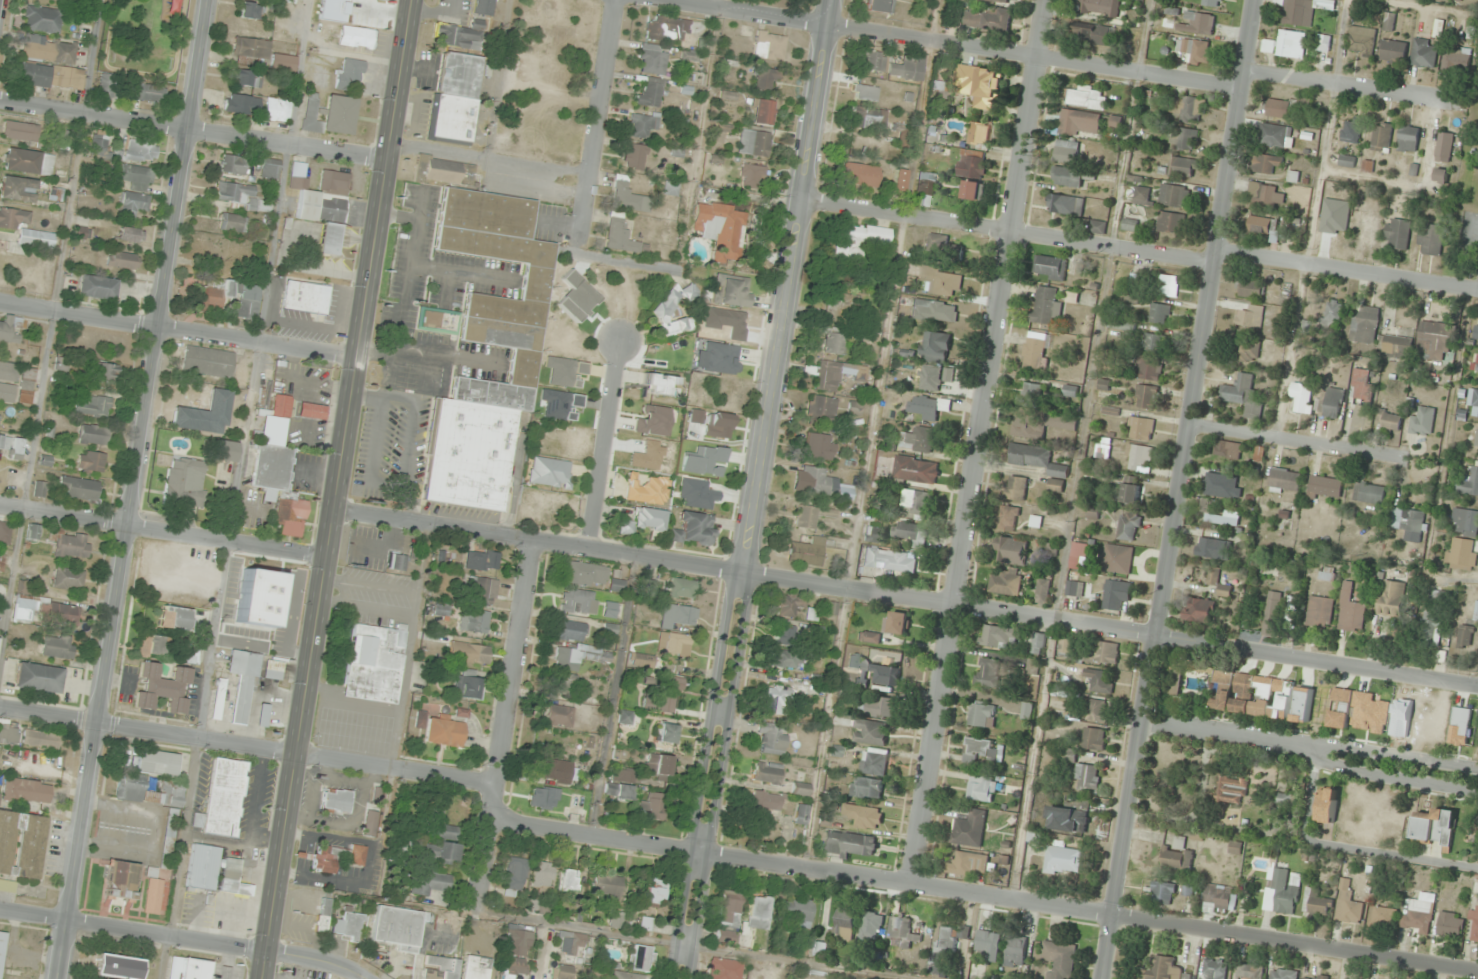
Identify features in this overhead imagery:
building: (62, 0)
building: (386, 0)
building: (996, 1)
building: (1209, 3)
building: (881, 6)
building: (483, 7)
building: (1100, 7)
road: (1422, 7)
building: (248, 10)
building: (1302, 10)
building: (330, 11)
building: (42, 19)
building: (987, 19)
building: (1197, 24)
building: (666, 29)
building: (1093, 34)
building: (458, 36)
building: (357, 37)
building: (1360, 41)
road: (956, 43)
building: (1285, 44)
building: (1323, 44)
building: (769, 45)
building: (49, 50)
building: (250, 51)
building: (1195, 51)
building: (1392, 51)
building: (1424, 53)
building: (652, 59)
building: (873, 60)
building: (1456, 61)
building: (282, 62)
building: (908, 67)
building: (348, 73)
building: (49, 76)
building: (766, 78)
building: (247, 79)
building: (980, 81)
building: (106, 86)
road: (1340, 87)
building: (939, 90)
building: (649, 92)
building: (864, 93)
building: (149, 94)
building: (455, 97)
building: (1085, 97)
building: (242, 105)
building: (1285, 107)
building: (1188, 109)
building: (277, 110)
building: (764, 112)
building: (329, 114)
building: (869, 118)
road: (598, 121)
building: (1078, 123)
building: (642, 124)
building: (1115, 125)
building: (20, 130)
road: (191, 131)
building: (1350, 131)
building: (979, 136)
building: (1273, 136)
building: (61, 137)
building: (1184, 138)
building: (1381, 138)
building: (1407, 139)
building: (99, 143)
building: (754, 143)
building: (1443, 147)
building: (138, 151)
building: (1067, 152)
road: (488, 156)
building: (635, 156)
building: (27, 161)
building: (1346, 161)
building: (1266, 164)
building: (232, 165)
building: (972, 167)
building: (1183, 167)
building: (270, 169)
building: (860, 174)
building: (752, 175)
building: (1440, 175)
building: (137, 177)
building: (1067, 177)
road: (1370, 179)
building: (899, 180)
building: (670, 188)
building: (18, 189)
building: (924, 189)
park: (1465, 190)
building: (973, 191)
building: (56, 193)
building: (239, 196)
building: (627, 196)
building: (1142, 196)
building: (1173, 196)
building: (1273, 196)
building: (133, 204)
building: (322, 204)
building: (1066, 205)
road: (1311, 219)
building: (233, 222)
building: (1170, 223)
building: (1129, 225)
building: (1335, 225)
building: (1262, 226)
building: (1098, 227)
building: (25, 228)
building: (719, 228)
building: (1365, 230)
building: (130, 234)
building: (1396, 235)
building: (621, 236)
building: (857, 239)
building: (1430, 239)
building: (944, 249)
road: (1139, 253)
building: (122, 260)
building: (1051, 268)
park: (27, 275)
building: (942, 282)
building: (1166, 286)
building: (96, 287)
building: (1249, 289)
building: (732, 290)
building: (212, 295)
building: (305, 297)
building: (248, 302)
building: (836, 306)
building: (1046, 306)
building: (934, 311)
building: (1330, 312)
building: (661, 313)
building: (1159, 314)
building: (1249, 317)
building: (438, 321)
building: (1364, 325)
building: (1306, 326)
road: (176, 327)
building: (10, 329)
building: (1476, 331)
building: (484, 339)
building: (1433, 340)
building: (1154, 341)
building: (832, 342)
building: (935, 347)
building: (1393, 347)
building: (1036, 351)
building: (1246, 352)
building: (721, 358)
building: (207, 361)
building: (1150, 368)
building: (9, 371)
building: (105, 372)
building: (825, 375)
building: (243, 376)
building: (930, 378)
building: (658, 384)
building: (26, 385)
building: (1361, 387)
building: (7, 392)
building: (1030, 394)
building: (1242, 395)
building: (1145, 397)
building: (1301, 398)
building: (1473, 401)
building: (1332, 403)
building: (94, 406)
building: (822, 407)
building: (927, 408)
building: (312, 411)
building: (0, 412)
building: (1389, 421)
building: (1421, 421)
building: (652, 422)
building: (1039, 424)
building: (1141, 428)
building: (92, 434)
building: (1476, 439)
building: (918, 440)
road: (979, 440)
road: (1294, 441)
road: (602, 445)
building: (819, 446)
building: (11, 447)
building: (225, 450)
building: (1228, 450)
building: (1140, 458)
building: (91, 462)
building: (1040, 464)
building: (277, 468)
building: (916, 470)
building: (549, 472)
building: (1284, 480)
building: (1468, 480)
building: (816, 481)
building: (183, 482)
building: (1222, 486)
building: (81, 488)
building: (1324, 488)
road: (132, 489)
road: (332, 489)
building: (647, 489)
road: (755, 489)
building: (1016, 489)
road: (1177, 489)
building: (1369, 493)
building: (697, 494)
building: (1131, 494)
building: (916, 502)
building: (812, 516)
building: (1215, 516)
building: (1008, 518)
building: (644, 521)
building: (1464, 522)
building: (1408, 524)
building: (1129, 527)
building: (693, 529)
building: (33, 531)
road: (161, 532)
building: (911, 533)
building: (6, 534)
building: (873, 534)
building: (70, 543)
building: (1211, 548)
building: (1011, 551)
building: (807, 552)
building: (1460, 554)
building: (1078, 556)
building: (1117, 559)
building: (484, 560)
building: (890, 560)
building: (396, 561)
building: (2, 562)
building: (586, 574)
building: (1326, 574)
building: (1213, 575)
building: (68, 578)
building: (1006, 583)
building: (618, 585)
building: (252, 586)
building: (683, 588)
building: (1075, 589)
building: (1043, 590)
building: (484, 591)
building: (1224, 591)
building: (1114, 595)
road: (903, 598)
building: (1391, 598)
building: (579, 601)
building: (789, 605)
building: (610, 609)
building: (1199, 610)
building: (47, 611)
building: (1350, 611)
building: (1320, 612)
building: (1271, 613)
building: (679, 616)
building: (1432, 617)
building: (174, 618)
building: (474, 620)
building: (237, 623)
building: (898, 623)
building: (572, 630)
building: (785, 634)
building: (999, 636)
building: (1464, 636)
building: (870, 637)
building: (1037, 643)
building: (673, 644)
building: (152, 645)
building: (57, 646)
building: (1065, 648)
building: (473, 653)
building: (1103, 653)
building: (578, 656)
building: (639, 659)
building: (787, 659)
building: (374, 663)
building: (1032, 666)
building: (273, 670)
building: (879, 672)
building: (988, 673)
building: (39, 677)
building: (1100, 680)
building: (1175, 681)
building: (561, 683)
building: (242, 684)
building: (162, 687)
building: (468, 687)
building: (1232, 692)
building: (669, 694)
building: (218, 698)
building: (777, 699)
building: (877, 706)
building: (1341, 708)
building: (1026, 711)
building: (1098, 711)
building: (560, 714)
building: (263, 715)
building: (982, 715)
building: (626, 716)
road: (503, 727)
road: (1221, 727)
building: (444, 732)
building: (869, 732)
building: (667, 733)
building: (8, 734)
building: (41, 739)
building: (1094, 739)
building: (773, 740)
road: (248, 743)
building: (980, 750)
road: (1388, 752)
building: (875, 762)
building: (157, 763)
building: (659, 764)
building: (559, 771)
building: (768, 773)
building: (623, 775)
road: (1384, 775)
building: (1087, 776)
building: (867, 788)
building: (981, 788)
building: (801, 789)
building: (27, 790)
building: (1232, 790)
building: (619, 791)
building: (545, 797)
building: (223, 798)
building: (766, 800)
building: (337, 801)
building: (1327, 805)
building: (652, 806)
building: (576, 812)
building: (802, 814)
building: (1071, 816)
building: (864, 817)
building: (370, 824)
building: (968, 828)
building: (1434, 828)
building: (1034, 836)
building: (169, 838)
building: (21, 843)
building: (848, 844)
building: (1176, 855)
building: (434, 856)
building: (1062, 860)
building: (323, 861)
building: (967, 864)
building: (202, 866)
building: (543, 874)
building: (516, 876)
building: (232, 878)
building: (121, 879)
building: (570, 879)
building: (609, 889)
building: (1163, 891)
building: (1281, 891)
road: (990, 892)
building: (154, 893)
building: (654, 894)
building: (1219, 897)
building: (1315, 904)
building: (1347, 904)
building: (797, 911)
building: (759, 912)
building: (1418, 913)
building: (323, 915)
building: (1382, 916)
building: (730, 917)
building: (617, 921)
building: (646, 924)
building: (845, 924)
building: (1450, 925)
building: (348, 926)
building: (871, 926)
building: (1474, 926)
building: (397, 928)
building: (902, 932)
road: (185, 939)
building: (520, 942)
building: (570, 942)
building: (987, 943)
building: (2, 944)
building: (819, 949)
building: (943, 950)
building: (1015, 950)
building: (642, 958)
building: (1059, 959)
building: (116, 966)
building: (475, 967)
building: (187, 968)
building: (439, 968)
building: (516, 968)
building: (726, 969)
building: (1164, 969)
building: (977, 971)
building: (1249, 971)
building: (563, 972)
building: (1283, 974)
building: (628, 975)
building: (1314, 977)

